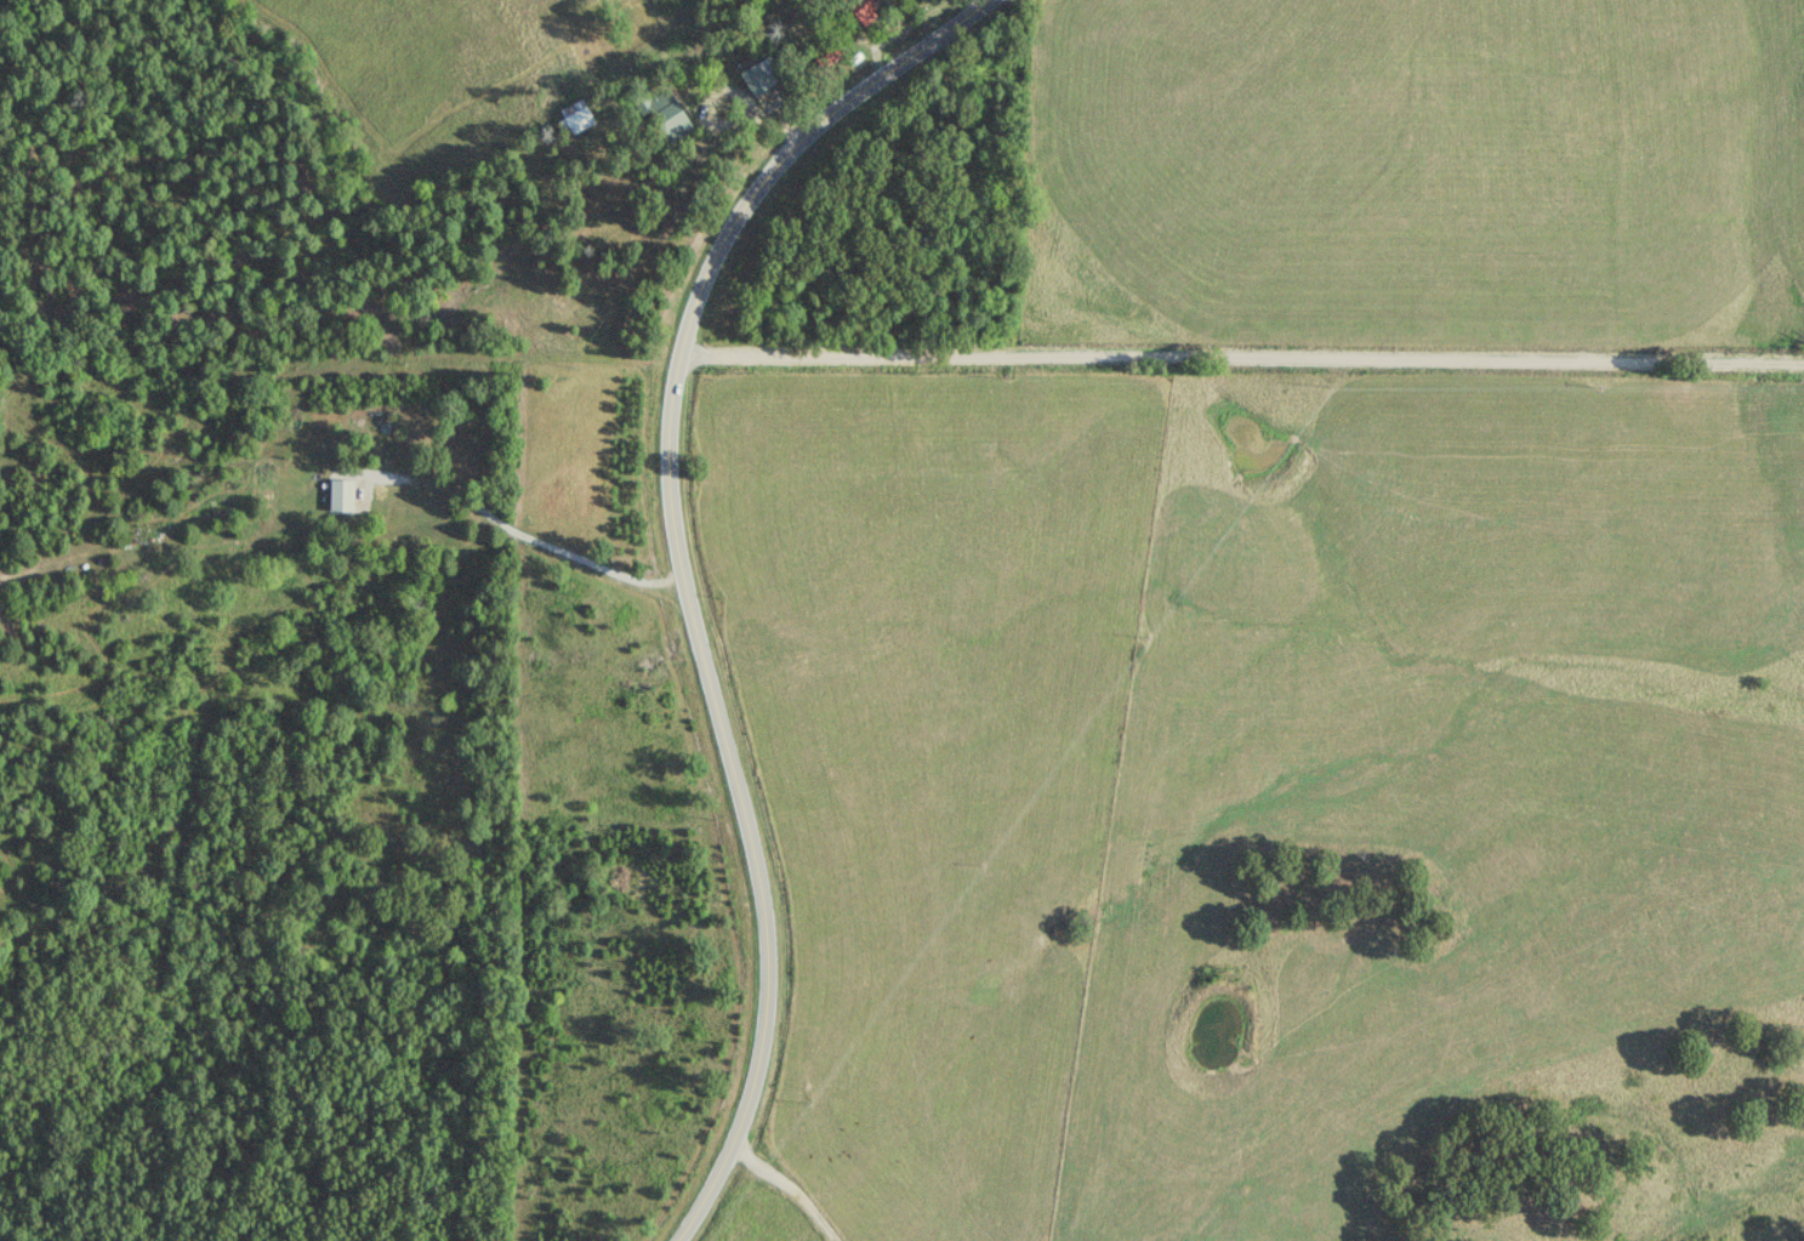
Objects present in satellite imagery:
building: (763, 78)
building: (579, 116)
building: (672, 116)
road: (1240, 349)
road: (332, 414)
building: (345, 496)
road: (681, 582)
road: (763, 1194)

